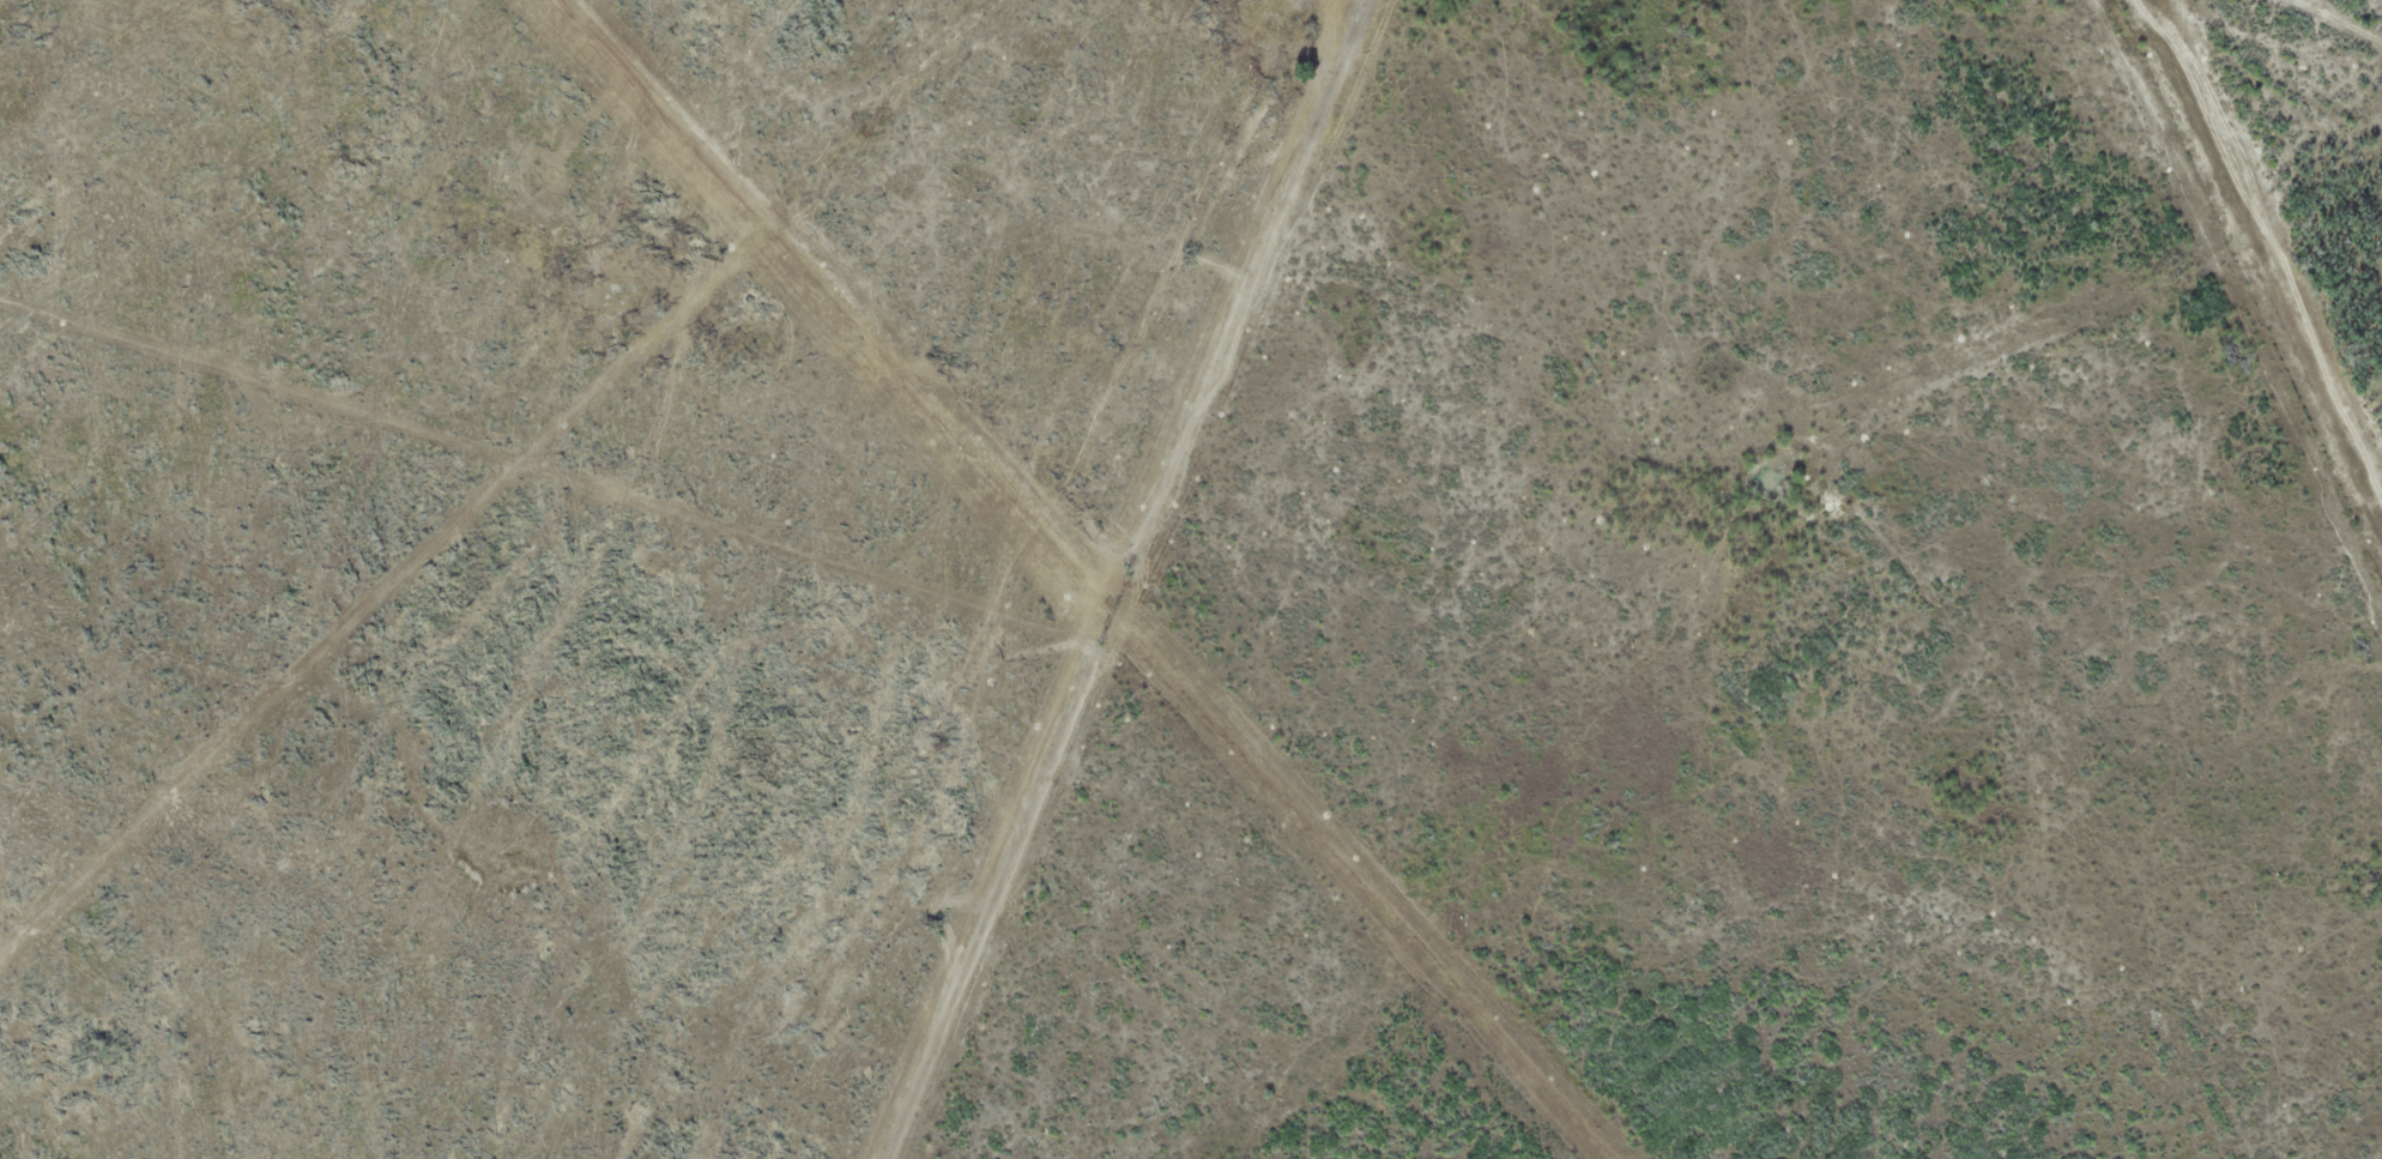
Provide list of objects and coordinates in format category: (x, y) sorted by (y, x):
road: (2229, 322)

